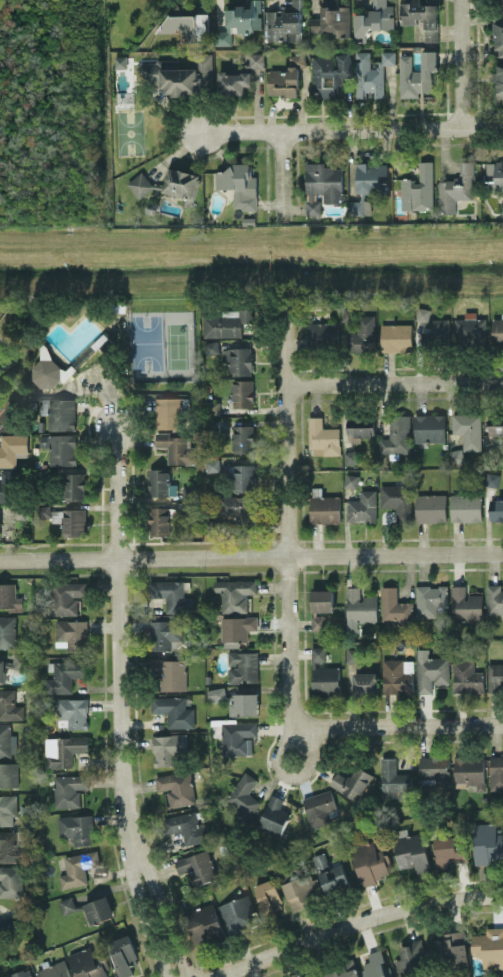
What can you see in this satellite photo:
building: (500, 5)
building: (421, 17)
building: (332, 18)
building: (373, 19)
building: (240, 21)
building: (188, 23)
building: (284, 23)
building: (498, 37)
building: (256, 60)
building: (119, 61)
road: (464, 64)
building: (329, 73)
building: (371, 73)
building: (418, 75)
building: (286, 77)
building: (499, 81)
building: (233, 82)
road: (352, 129)
building: (494, 175)
road: (288, 176)
building: (371, 177)
building: (140, 184)
building: (181, 184)
building: (239, 184)
building: (322, 185)
building: (418, 188)
building: (455, 188)
building: (500, 196)
building: (359, 207)
building: (423, 313)
building: (226, 323)
building: (470, 329)
building: (361, 331)
building: (497, 331)
building: (437, 332)
building: (322, 334)
building: (396, 336)
building: (211, 347)
building: (45, 351)
building: (238, 359)
building: (47, 373)
road: (394, 382)
building: (242, 392)
building: (43, 406)
building: (212, 406)
building: (169, 411)
building: (61, 413)
building: (6, 415)
building: (495, 424)
building: (360, 426)
building: (429, 427)
building: (468, 429)
building: (396, 435)
building: (322, 437)
building: (243, 438)
building: (12, 448)
building: (60, 448)
building: (175, 448)
building: (456, 455)
building: (351, 456)
building: (211, 464)
building: (244, 477)
building: (492, 479)
building: (351, 480)
building: (158, 481)
building: (7, 485)
building: (73, 486)
building: (396, 500)
building: (362, 506)
building: (430, 507)
building: (465, 507)
building: (240, 508)
building: (325, 508)
building: (190, 509)
building: (495, 509)
building: (44, 511)
road: (288, 519)
building: (159, 520)
building: (74, 521)
building: (215, 526)
building: (0, 532)
road: (251, 555)
building: (235, 593)
building: (171, 595)
building: (9, 596)
building: (66, 596)
building: (494, 598)
building: (430, 599)
building: (465, 604)
building: (321, 607)
building: (359, 607)
building: (395, 607)
building: (237, 627)
building: (7, 630)
building: (164, 633)
building: (71, 634)
building: (353, 656)
building: (18, 660)
building: (242, 666)
building: (430, 670)
building: (2, 671)
building: (169, 673)
building: (323, 673)
building: (65, 675)
building: (397, 675)
building: (466, 676)
building: (495, 676)
building: (364, 682)
building: (216, 693)
building: (243, 703)
road: (124, 704)
building: (9, 705)
building: (174, 710)
building: (73, 711)
road: (398, 724)
building: (237, 737)
building: (7, 741)
building: (63, 749)
building: (169, 749)
building: (434, 770)
building: (470, 770)
building: (496, 772)
building: (8, 774)
road: (289, 775)
building: (393, 780)
building: (352, 781)
building: (176, 787)
building: (69, 789)
building: (243, 797)
building: (319, 807)
building: (8, 809)
building: (273, 815)
building: (187, 827)
building: (76, 828)
building: (487, 843)
building: (11, 846)
building: (449, 849)
building: (411, 850)
building: (370, 862)
building: (197, 866)
building: (78, 867)
building: (334, 878)
building: (10, 881)
building: (302, 891)
building: (269, 896)
building: (80, 900)
building: (67, 904)
building: (99, 909)
building: (238, 913)
building: (204, 924)
road: (355, 924)
building: (8, 926)
building: (489, 947)
building: (452, 950)
building: (124, 955)
building: (411, 958)
building: (87, 963)
building: (375, 965)
building: (54, 970)
building: (344, 970)
building: (21, 973)
building: (302, 976)
building: (319, 976)

